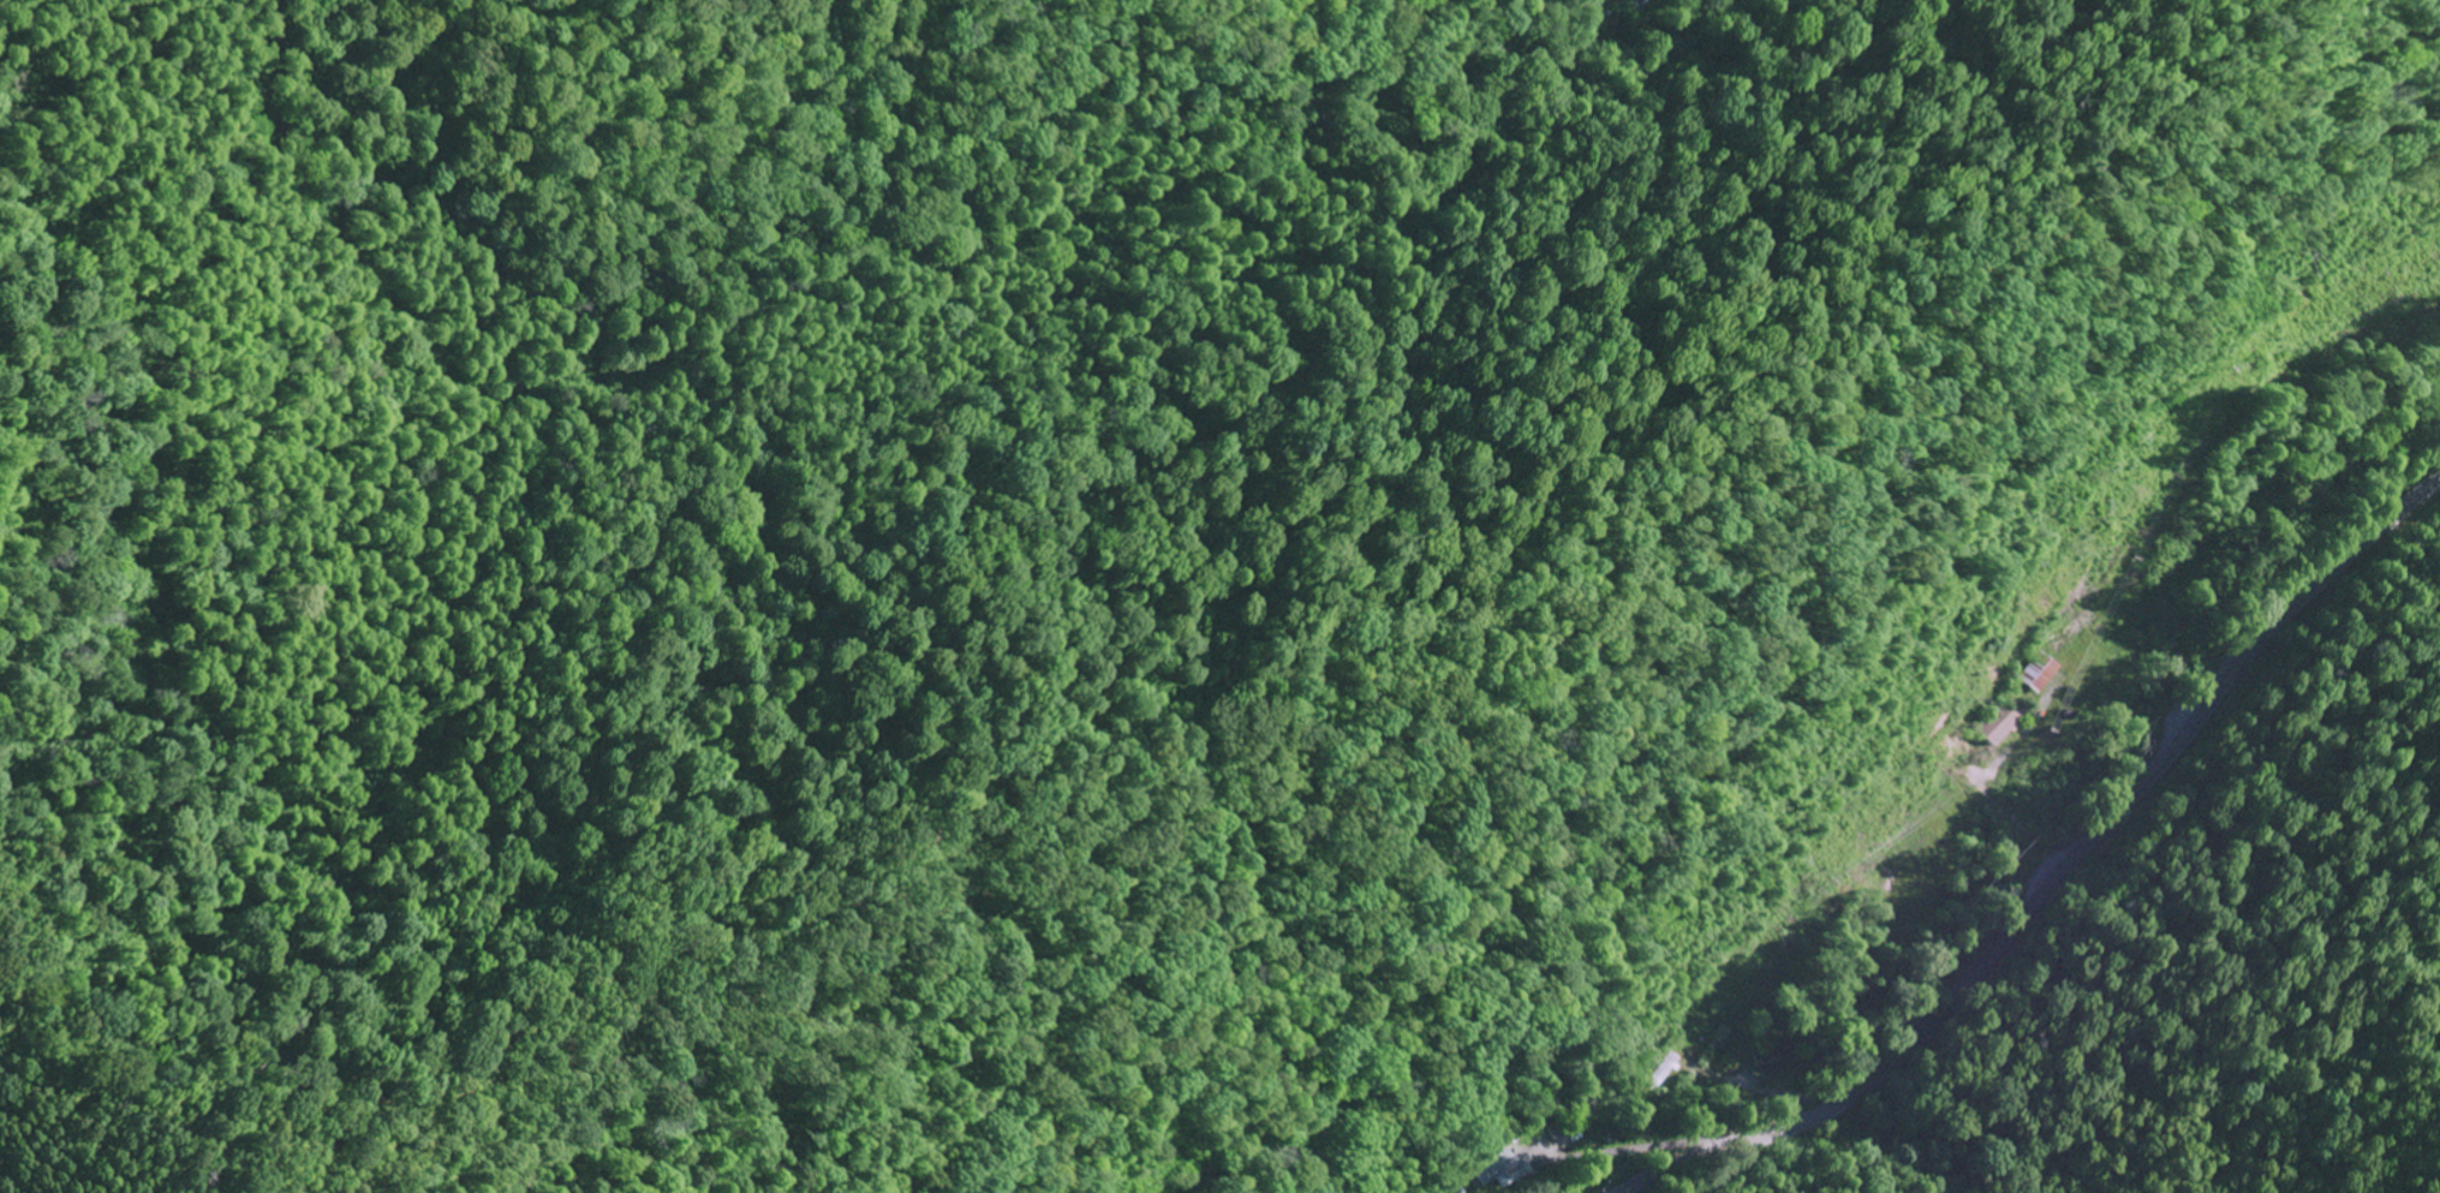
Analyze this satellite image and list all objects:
building: (2040, 673)
building: (1998, 722)
road: (2051, 872)
building: (1764, 1061)

